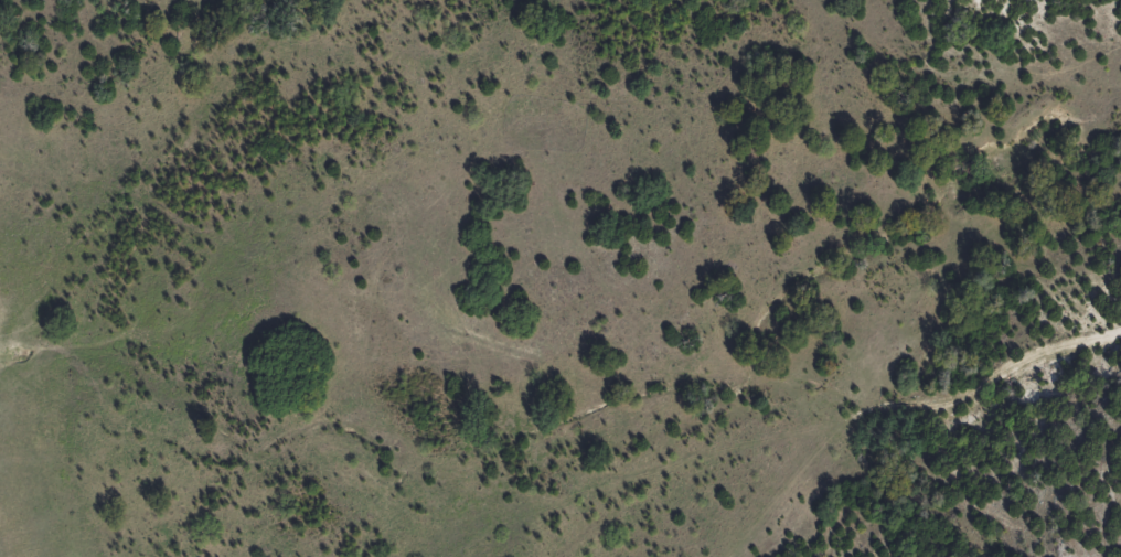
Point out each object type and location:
road: (909, 428)

